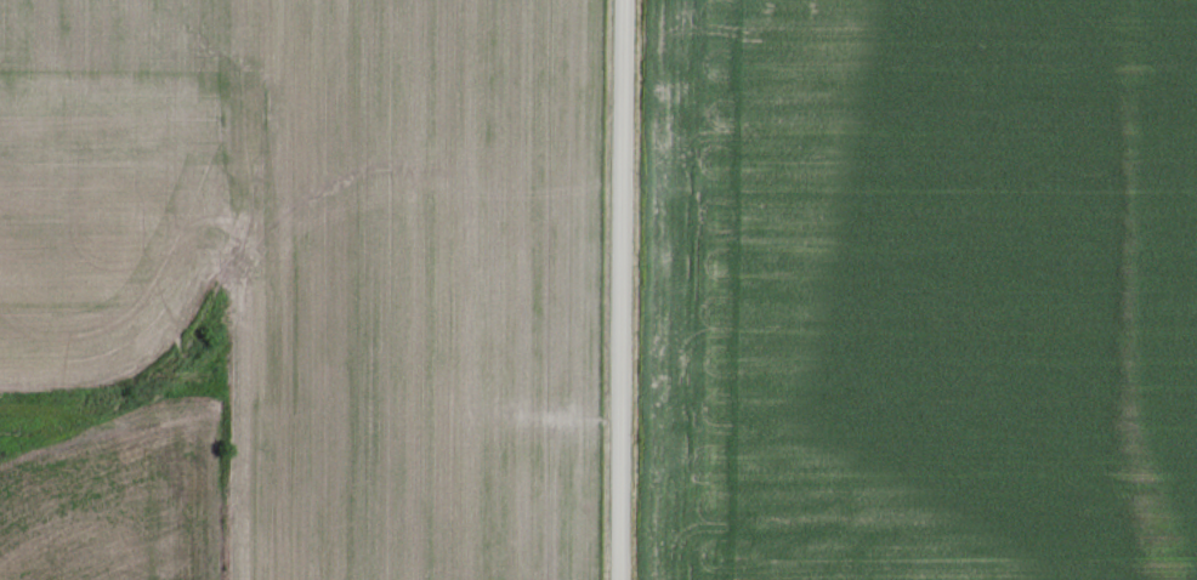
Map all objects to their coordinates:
road: (620, 290)

